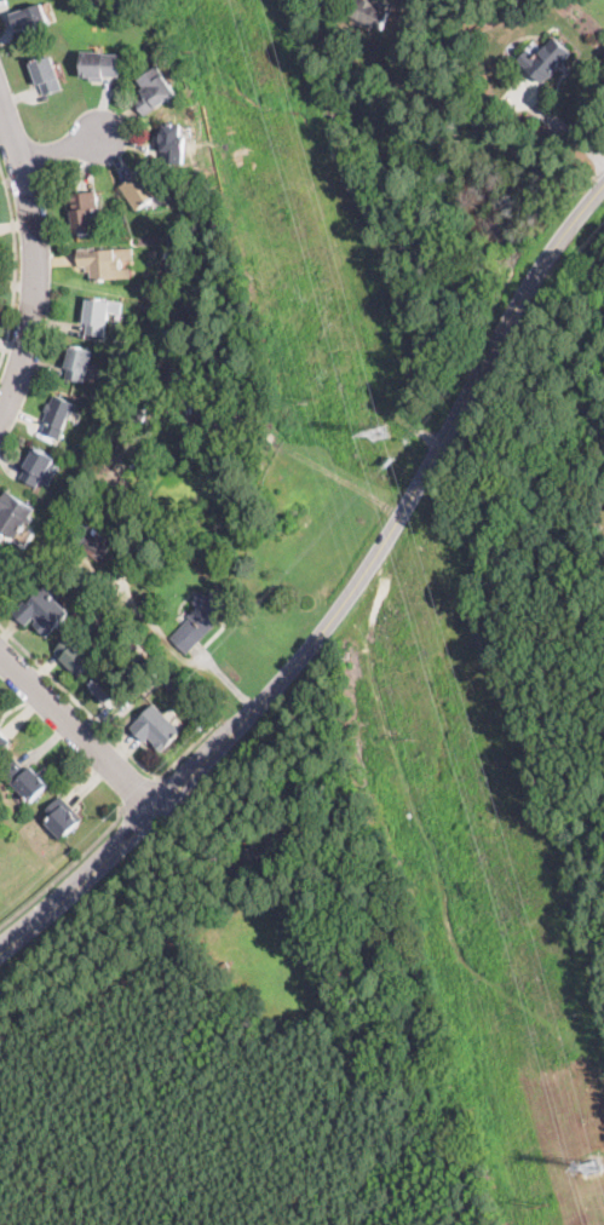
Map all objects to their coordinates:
building: (373, 12)
building: (31, 18)
building: (548, 59)
building: (99, 65)
building: (48, 75)
building: (155, 90)
road: (563, 128)
building: (172, 143)
road: (61, 149)
building: (144, 189)
building: (85, 212)
building: (154, 252)
road: (40, 263)
building: (100, 263)
road: (16, 264)
building: (145, 304)
building: (97, 317)
building: (81, 364)
building: (98, 396)
power tower: (313, 397)
building: (138, 412)
building: (59, 416)
building: (184, 425)
building: (212, 432)
power tower: (378, 435)
building: (90, 449)
building: (39, 466)
building: (13, 513)
building: (68, 513)
building: (184, 518)
building: (93, 542)
building: (1, 559)
building: (0, 563)
road: (344, 602)
building: (44, 610)
building: (203, 617)
building: (76, 655)
building: (171, 681)
building: (108, 688)
road: (103, 726)
building: (157, 727)
road: (77, 730)
power tower: (410, 732)
building: (4, 741)
building: (25, 780)
road: (142, 795)
building: (63, 817)
building: (271, 849)
road: (64, 869)
power tower: (591, 1164)
power tower: (546, 1206)

